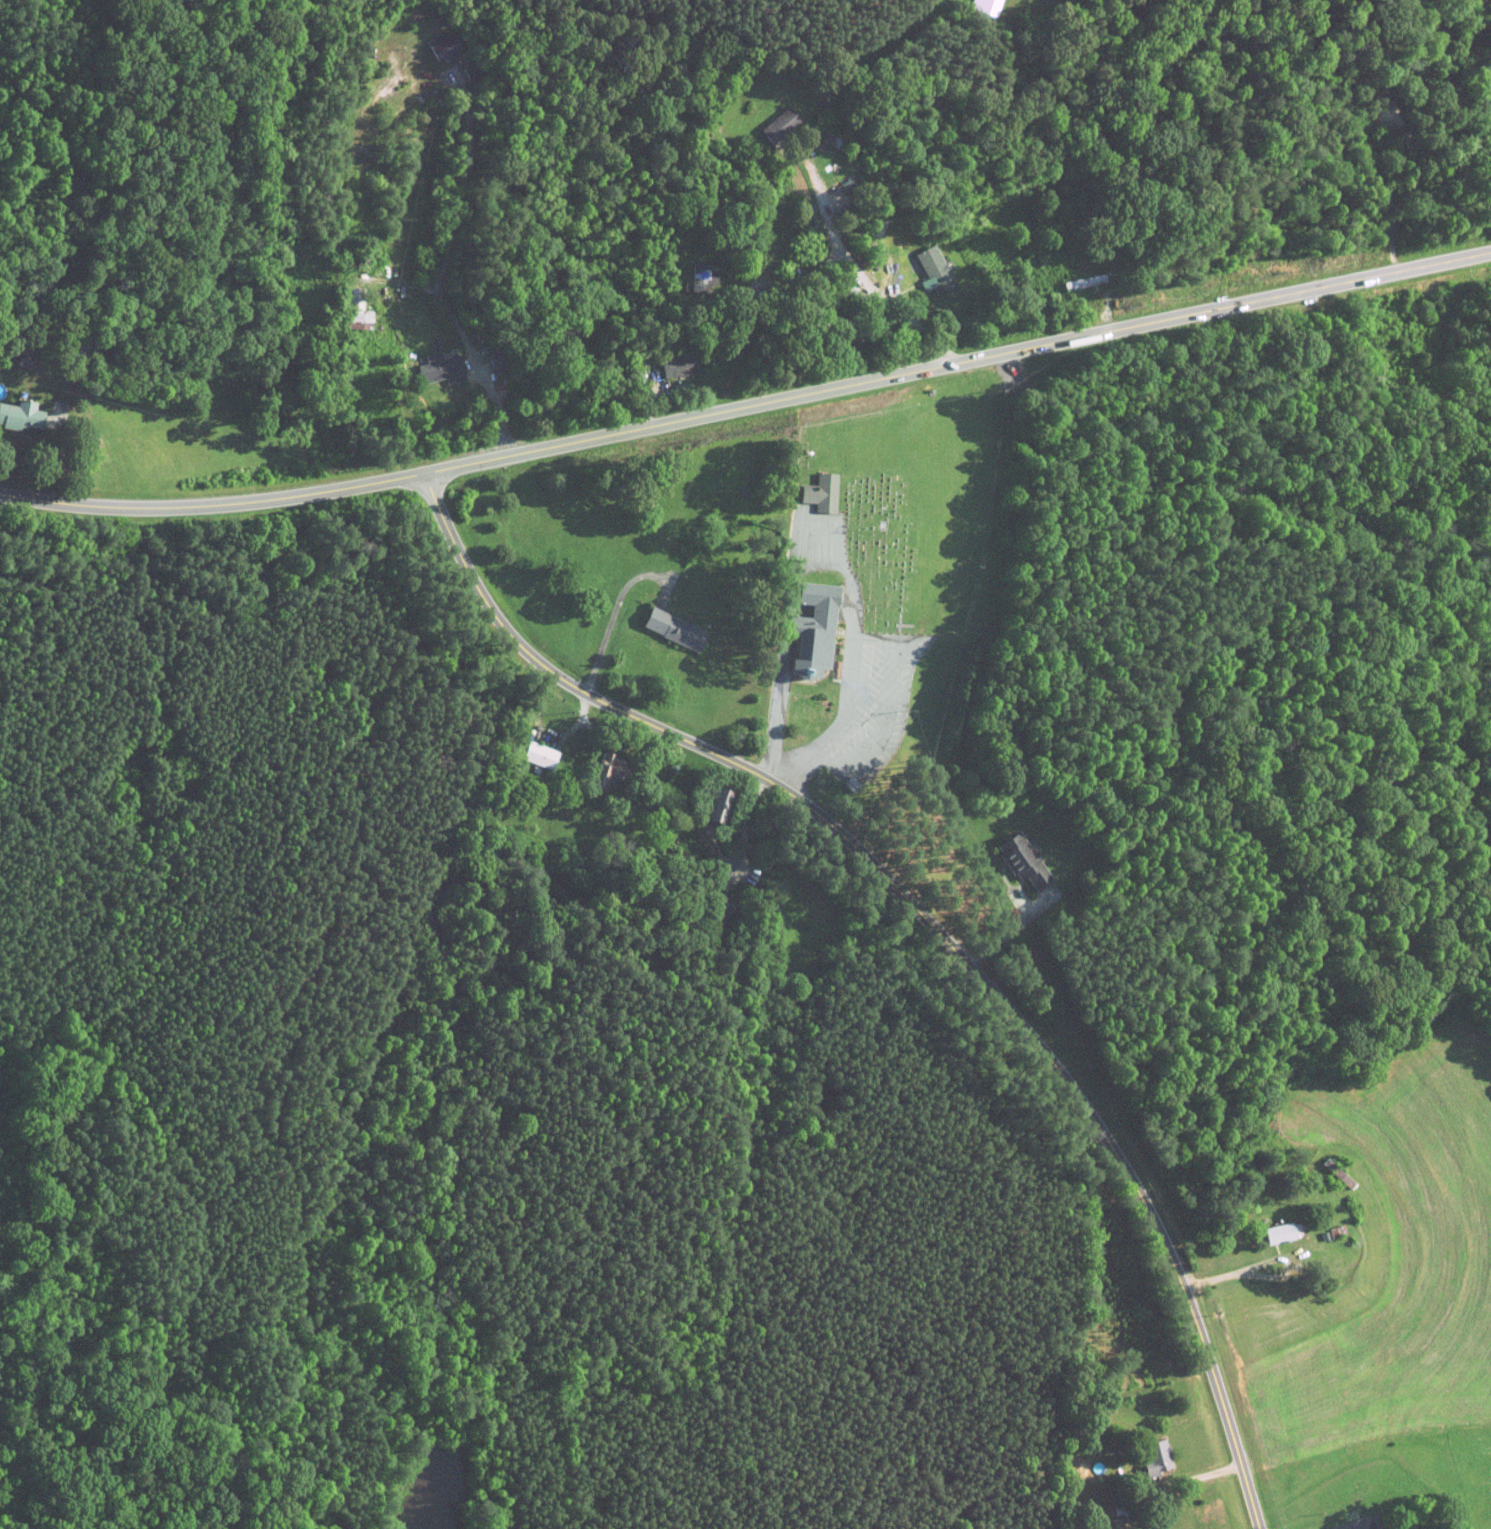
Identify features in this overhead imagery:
building: (985, 6)
building: (442, 46)
building: (776, 124)
road: (463, 185)
road: (857, 254)
road: (725, 259)
building: (933, 269)
building: (699, 276)
road: (923, 277)
building: (1082, 281)
road: (1100, 293)
building: (355, 305)
building: (358, 325)
road: (466, 335)
building: (676, 366)
building: (438, 368)
road: (748, 406)
building: (20, 416)
road: (59, 455)
building: (819, 492)
road: (840, 551)
road: (613, 617)
building: (674, 629)
building: (810, 630)
road: (783, 644)
road: (595, 737)
road: (794, 752)
road: (821, 752)
building: (538, 754)
building: (605, 771)
building: (712, 807)
road: (749, 823)
building: (1020, 861)
road: (1059, 884)
road: (930, 923)
building: (1280, 1231)
road: (1236, 1267)
building: (1154, 1457)
road: (1202, 1473)

